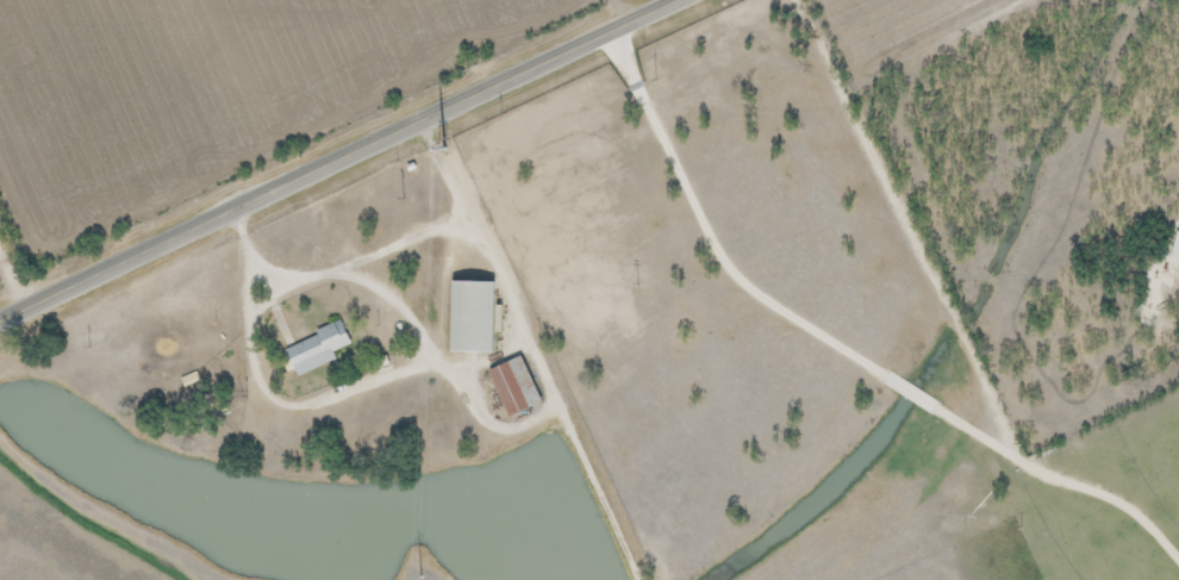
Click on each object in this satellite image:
road: (629, 12)
power tower: (466, 69)
power tower: (661, 77)
road: (713, 82)
power tower: (447, 139)
road: (344, 161)
power tower: (394, 198)
road: (21, 261)
power tower: (632, 285)
road: (957, 313)
building: (469, 317)
power tower: (77, 348)
building: (316, 349)
building: (512, 386)

